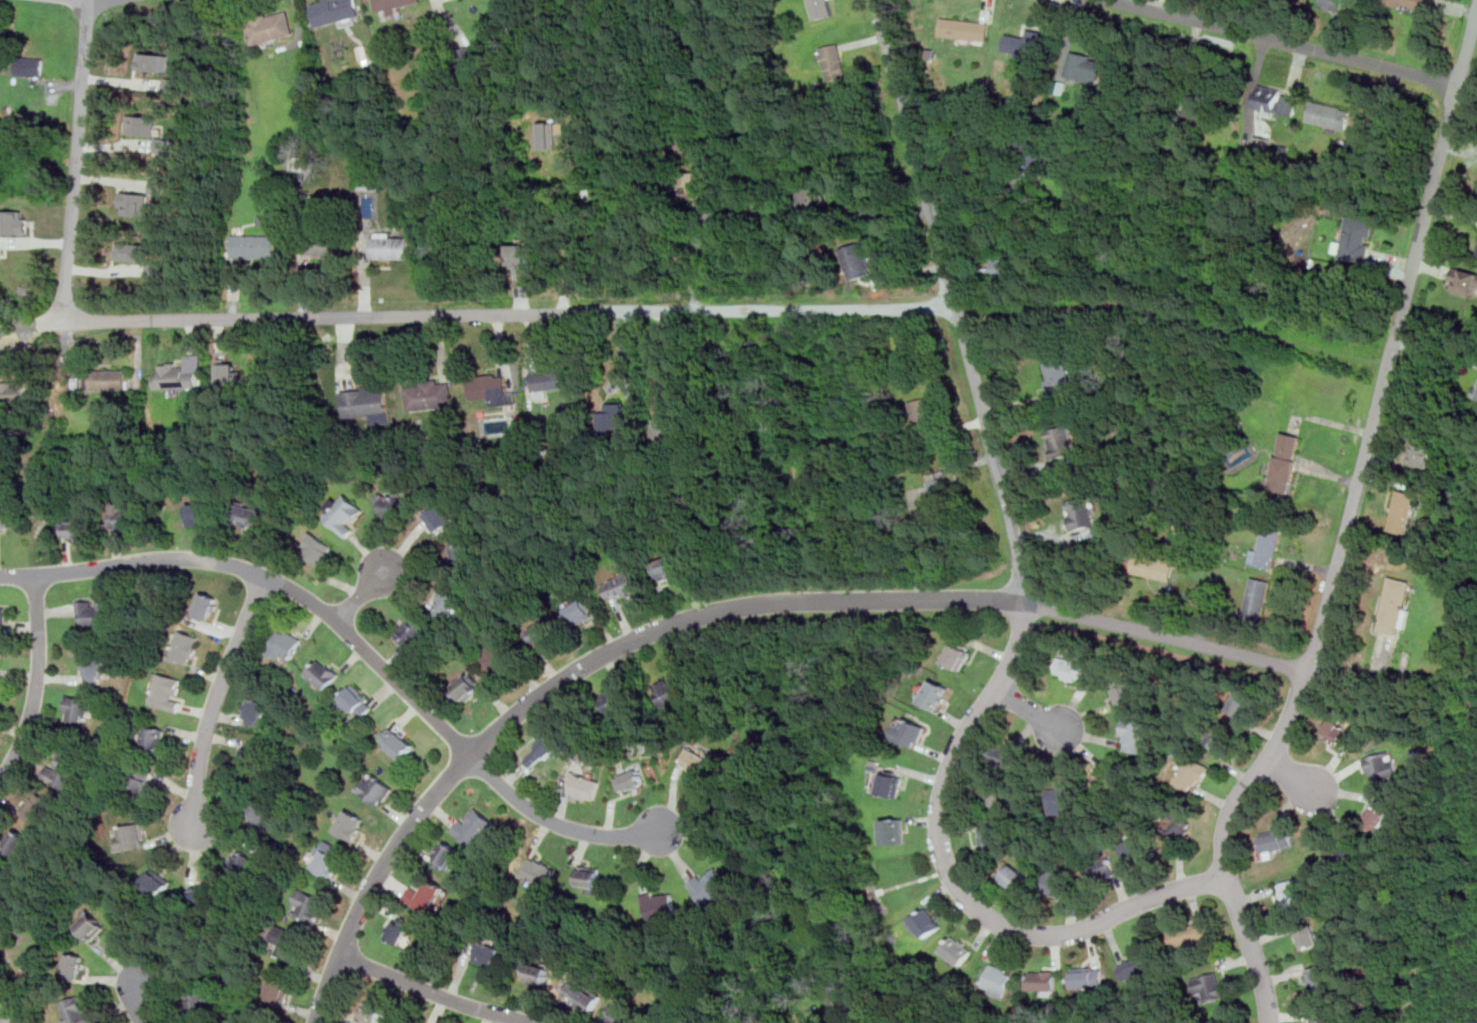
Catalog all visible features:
building: (394, 4)
building: (1334, 4)
building: (1411, 4)
building: (819, 8)
building: (334, 11)
building: (519, 24)
building: (271, 27)
building: (965, 30)
building: (1026, 42)
road: (1286, 42)
building: (473, 53)
building: (153, 61)
building: (834, 61)
building: (30, 66)
building: (1086, 66)
building: (172, 85)
building: (1276, 100)
building: (1195, 114)
building: (1330, 115)
building: (142, 125)
building: (549, 136)
building: (1262, 143)
building: (163, 145)
building: (1027, 152)
road: (77, 161)
road: (964, 167)
building: (699, 185)
building: (370, 188)
building: (812, 197)
building: (134, 203)
building: (752, 210)
road: (897, 215)
building: (15, 222)
road: (577, 227)
building: (1357, 238)
building: (1, 243)
building: (253, 244)
building: (320, 245)
building: (392, 245)
building: (131, 251)
building: (519, 254)
building: (858, 259)
road: (698, 263)
building: (1004, 267)
building: (1464, 281)
road: (479, 313)
road: (1436, 350)
building: (228, 374)
building: (176, 376)
building: (1059, 378)
building: (107, 379)
building: (551, 379)
building: (491, 389)
building: (13, 392)
building: (1475, 393)
building: (430, 395)
building: (368, 403)
building: (615, 416)
building: (924, 417)
building: (665, 426)
building: (1061, 441)
building: (1419, 454)
building: (1286, 463)
building: (941, 488)
building: (394, 506)
building: (1403, 511)
building: (1080, 512)
building: (203, 514)
building: (343, 514)
building: (9, 515)
building: (251, 515)
building: (123, 516)
building: (440, 520)
building: (77, 529)
road: (1347, 529)
building: (1266, 548)
building: (317, 550)
building: (462, 555)
building: (1153, 566)
building: (668, 568)
road: (267, 577)
building: (1215, 587)
building: (622, 588)
road: (362, 595)
road: (1026, 595)
building: (1256, 598)
building: (448, 601)
building: (1397, 606)
building: (206, 607)
building: (581, 611)
road: (717, 611)
building: (97, 612)
building: (3, 618)
building: (412, 631)
building: (542, 631)
building: (287, 645)
building: (185, 646)
building: (958, 655)
building: (500, 656)
building: (95, 666)
building: (1071, 669)
building: (324, 673)
road: (36, 683)
building: (469, 686)
building: (1128, 689)
building: (168, 690)
building: (674, 691)
building: (935, 694)
road: (216, 697)
building: (357, 700)
building: (615, 702)
building: (1242, 703)
road: (1028, 709)
building: (77, 710)
building: (257, 711)
building: (909, 731)
building: (1339, 732)
building: (1136, 734)
building: (155, 738)
building: (1221, 738)
building: (399, 743)
building: (543, 750)
building: (1006, 756)
building: (251, 758)
building: (697, 760)
building: (1382, 765)
building: (65, 771)
building: (1103, 771)
building: (1192, 772)
road: (1291, 777)
building: (631, 780)
building: (143, 781)
building: (1108, 783)
building: (891, 784)
building: (585, 786)
building: (376, 788)
building: (999, 795)
building: (1066, 798)
building: (38, 807)
building: (261, 813)
building: (1377, 818)
road: (555, 822)
building: (1176, 822)
building: (352, 824)
building: (475, 827)
building: (894, 830)
building: (131, 836)
building: (993, 836)
building: (1277, 840)
building: (15, 843)
building: (1136, 847)
building: (1349, 849)
building: (447, 855)
building: (327, 862)
building: (243, 863)
road: (752, 867)
building: (1100, 868)
building: (539, 872)
building: (589, 877)
building: (1014, 878)
building: (2, 879)
building: (1056, 881)
building: (158, 883)
building: (710, 887)
building: (1291, 892)
building: (204, 894)
building: (427, 895)
road: (874, 896)
building: (308, 905)
building: (659, 906)
building: (926, 922)
building: (90, 926)
building: (400, 929)
building: (1190, 932)
road: (821, 934)
building: (1308, 937)
park: (835, 938)
building: (287, 941)
building: (959, 948)
building: (489, 954)
building: (74, 964)
building: (1137, 965)
building: (537, 972)
building: (1088, 976)
building: (1318, 978)
building: (998, 980)
building: (1043, 981)
building: (1210, 985)
building: (277, 989)
road: (432, 993)
building: (583, 996)
road: (12, 999)
building: (201, 1002)
road: (142, 1005)
building: (78, 1011)
road: (5, 1012)
building: (370, 1012)
building: (621, 1014)
building: (1322, 1020)

